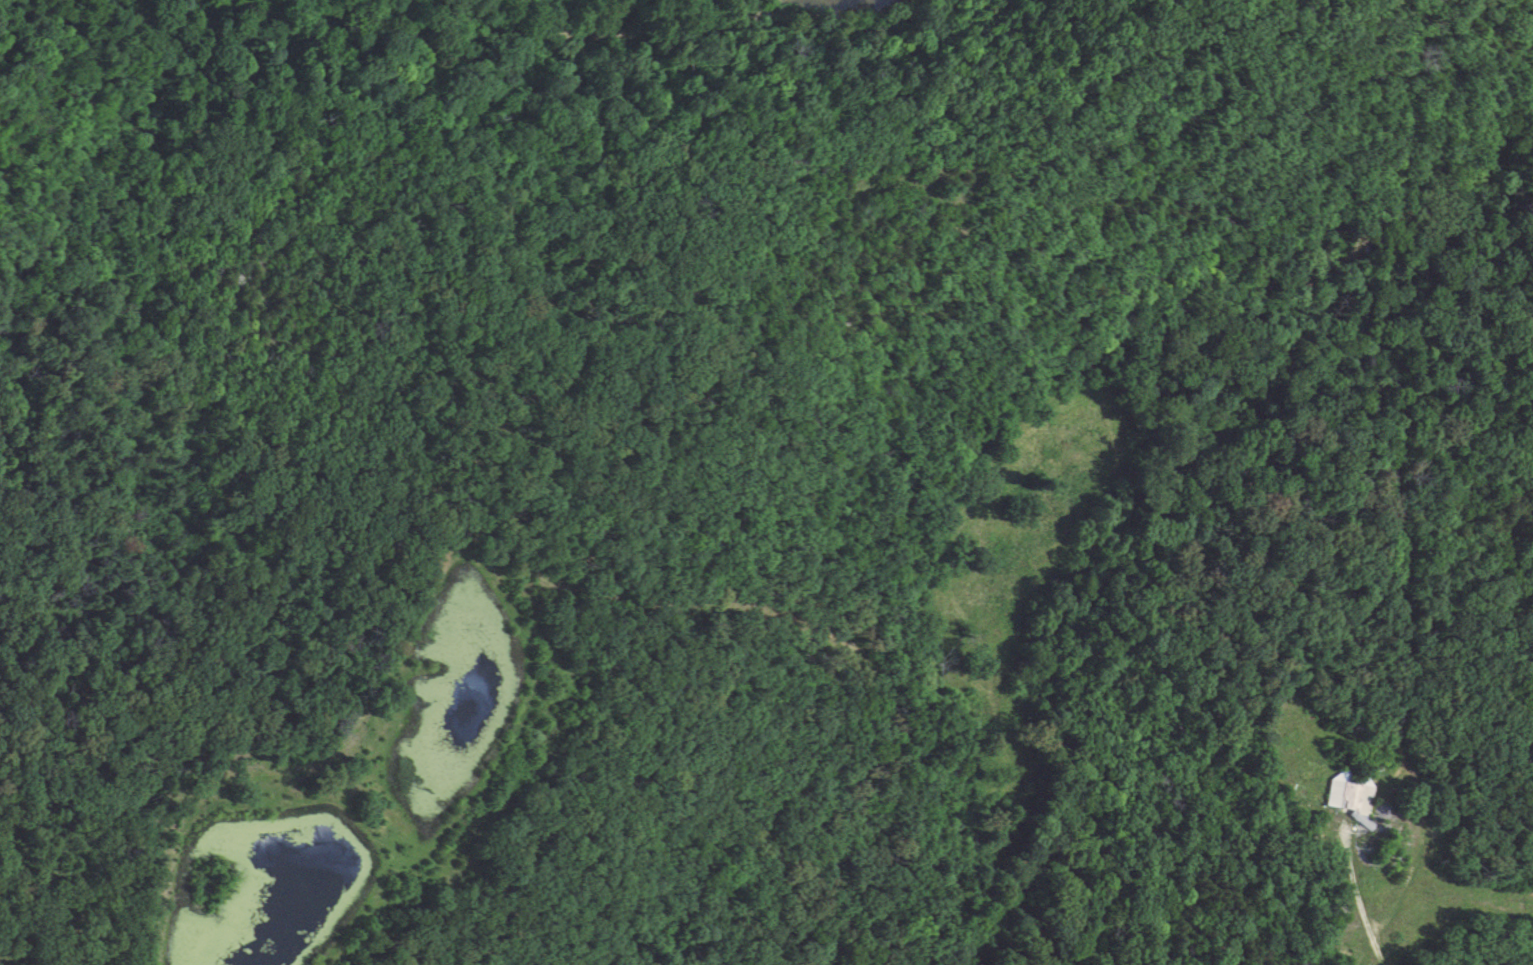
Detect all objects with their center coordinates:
road: (1363, 899)

